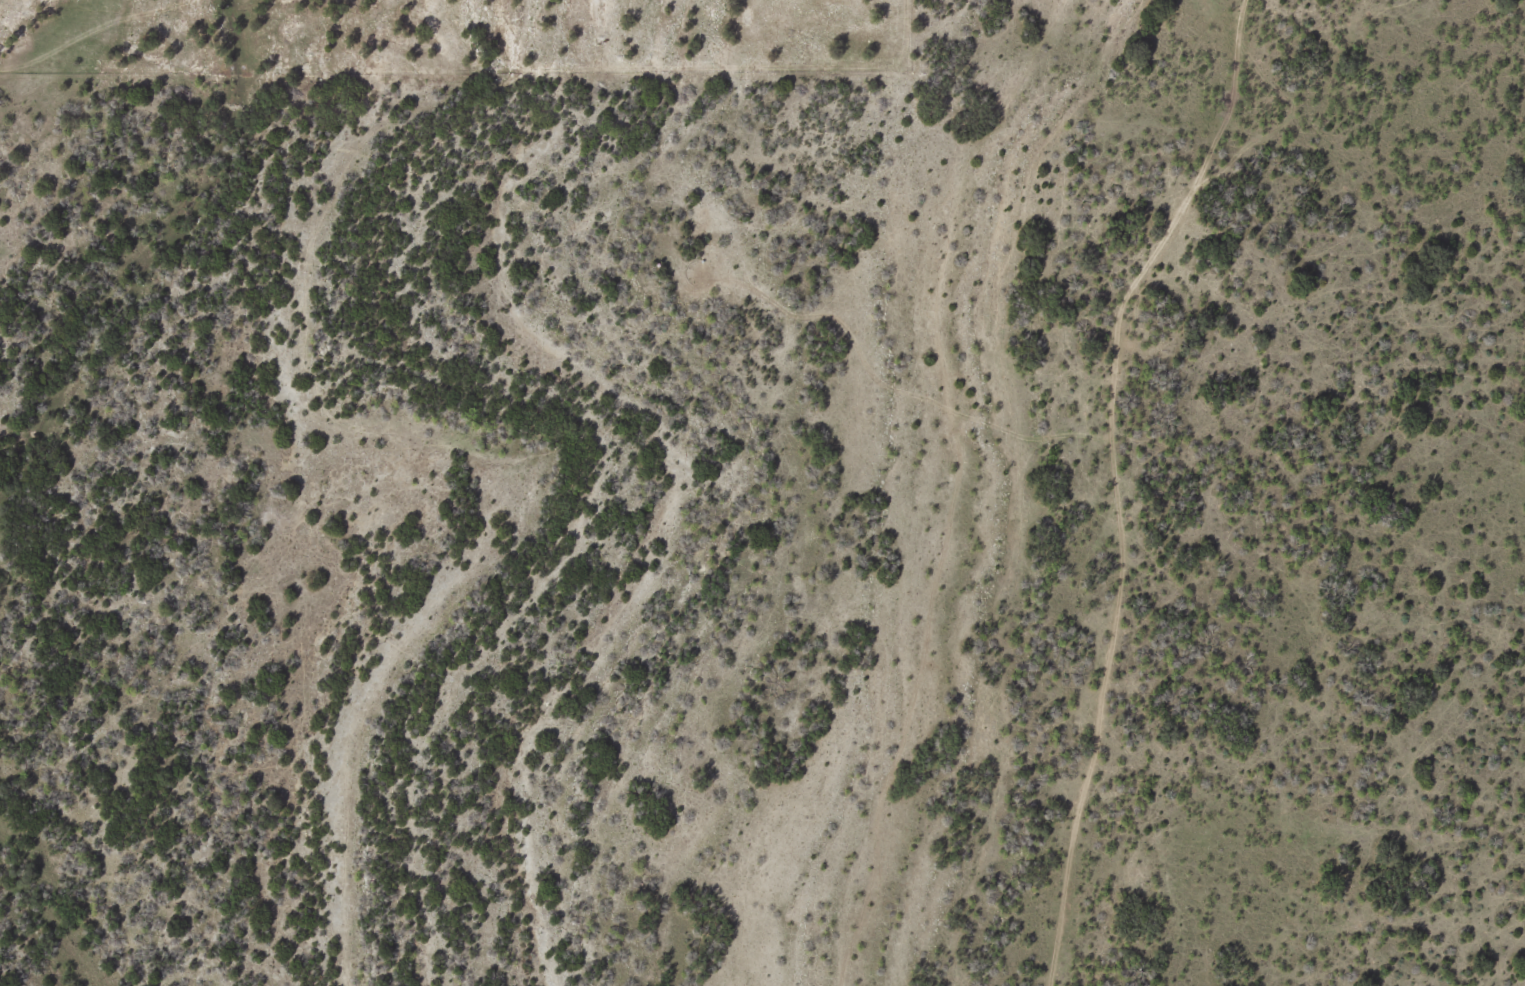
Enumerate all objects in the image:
road: (1112, 483)

